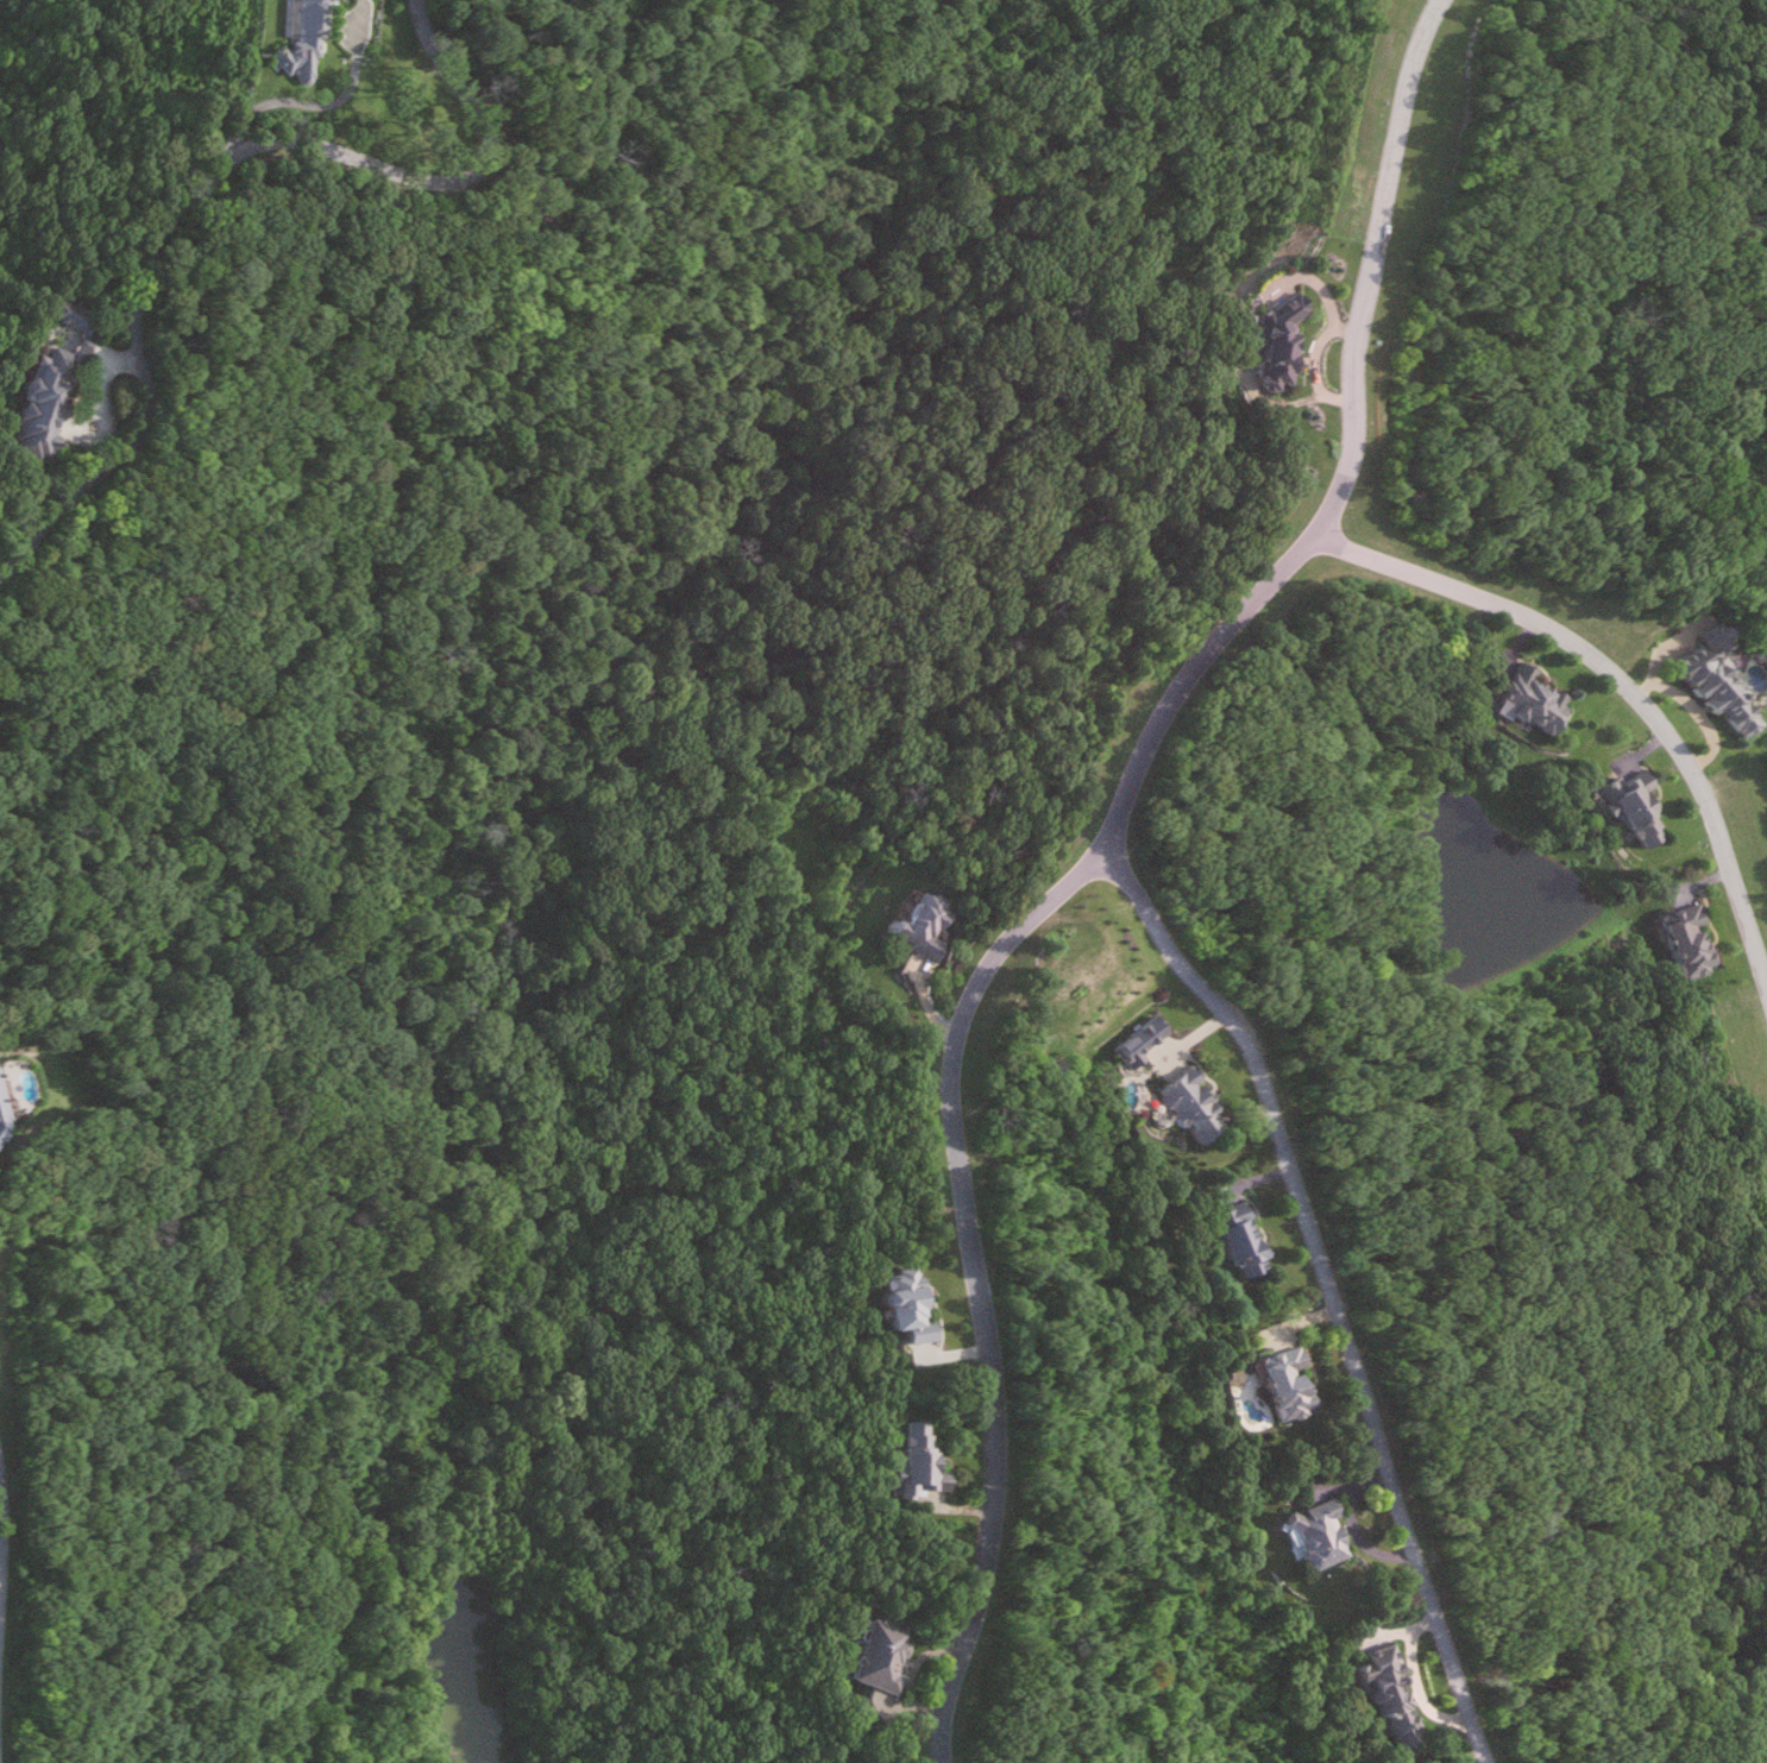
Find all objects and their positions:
building: (310, 36)
road: (314, 102)
road: (206, 189)
building: (73, 314)
building: (1283, 341)
building: (49, 399)
road: (25, 521)
road: (1620, 673)
building: (1722, 690)
building: (1536, 699)
building: (1639, 806)
road: (1087, 862)
building: (922, 925)
building: (1691, 939)
building: (1195, 1106)
building: (1, 1136)
building: (1244, 1241)
road: (1333, 1285)
building: (908, 1305)
building: (1289, 1384)
building: (922, 1460)
building: (1319, 1535)
building: (882, 1657)
building: (1392, 1698)

